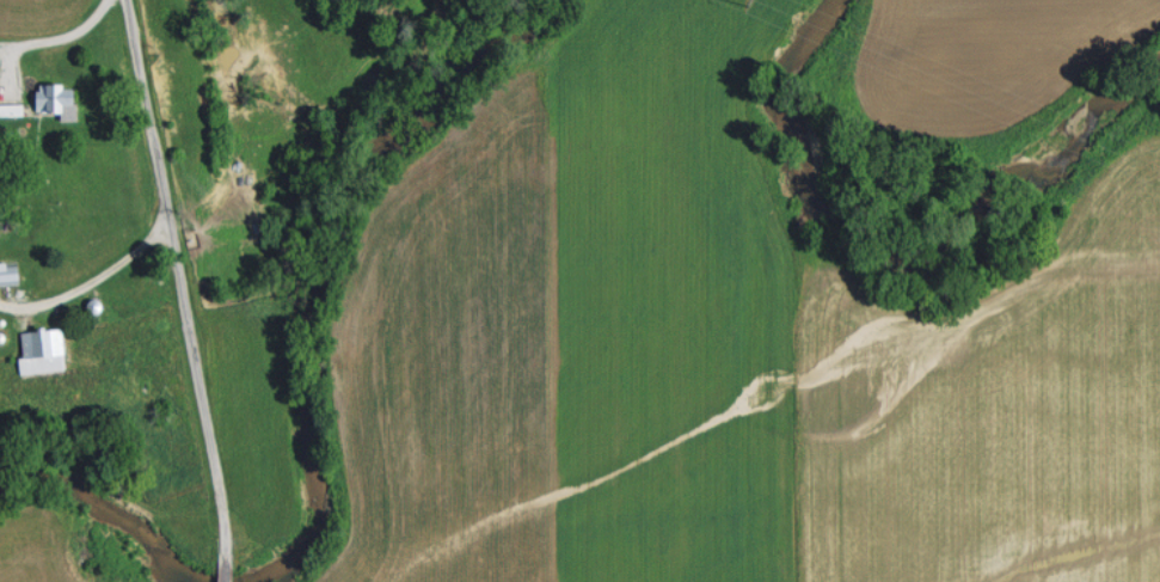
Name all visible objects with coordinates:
road: (55, 36)
building: (61, 98)
building: (11, 272)
road: (84, 281)
road: (171, 289)
building: (44, 349)

